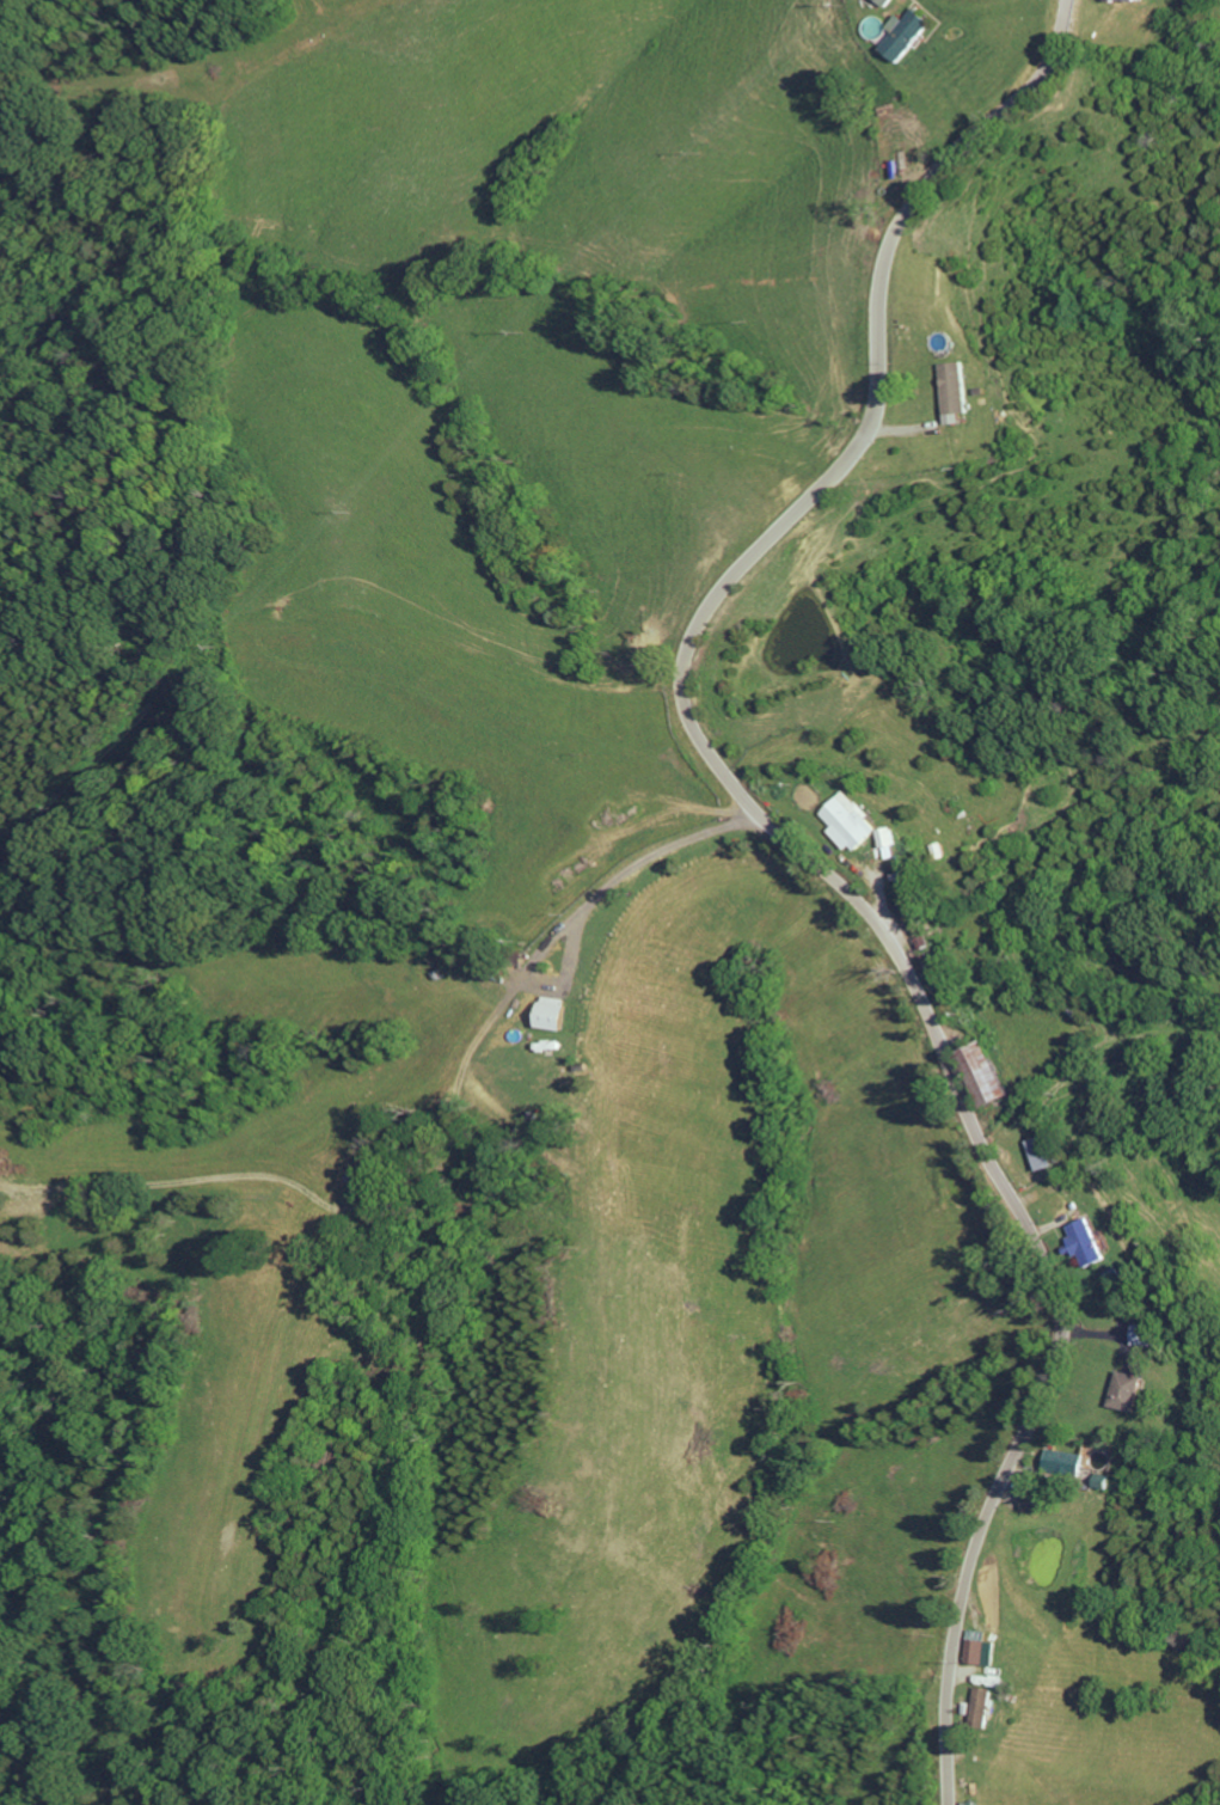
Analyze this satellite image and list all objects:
building: (1136, 0)
building: (889, 2)
building: (912, 33)
building: (957, 387)
building: (856, 820)
building: (896, 842)
road: (809, 857)
road: (588, 905)
building: (557, 1014)
road: (421, 1027)
building: (992, 1073)
building: (1048, 1152)
building: (1090, 1242)
building: (1151, 1334)
building: (1132, 1391)
building: (1066, 1462)
building: (1038, 1501)
building: (986, 1652)
building: (988, 1706)
building: (973, 1803)

